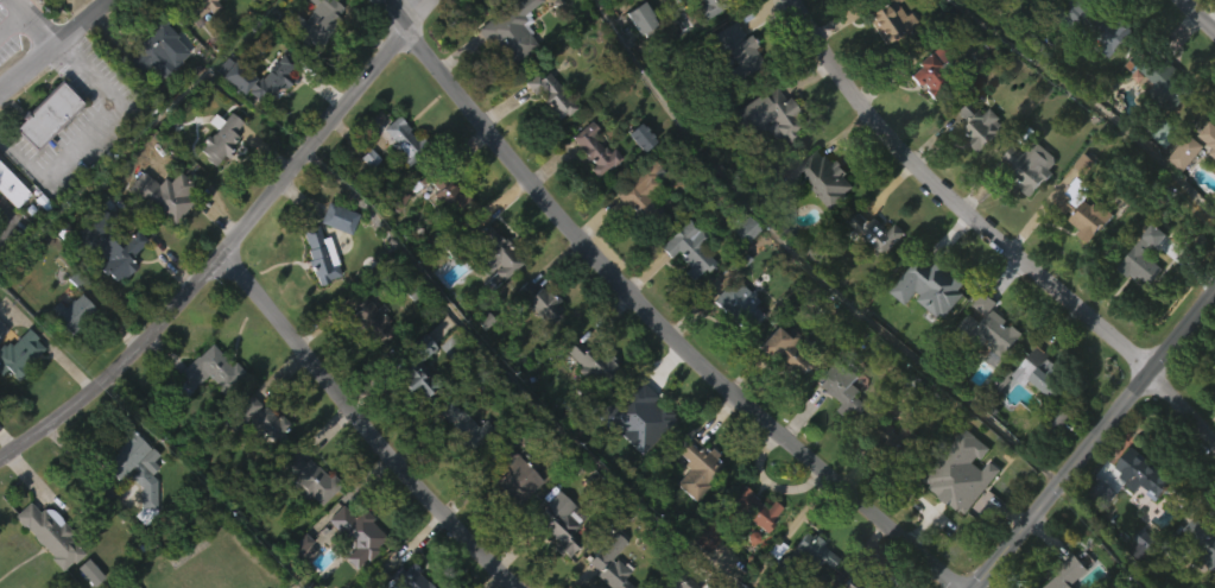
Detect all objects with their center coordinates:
building: (840, 2)
building: (707, 6)
building: (195, 7)
building: (49, 8)
building: (248, 13)
building: (543, 13)
road: (1197, 15)
building: (635, 17)
building: (1040, 17)
road: (10, 19)
building: (891, 20)
building: (1096, 21)
road: (31, 23)
building: (318, 24)
building: (700, 31)
building: (202, 34)
building: (152, 44)
road: (55, 46)
building: (734, 50)
building: (1075, 53)
building: (635, 57)
building: (885, 59)
building: (931, 68)
building: (505, 70)
building: (1103, 74)
building: (271, 78)
building: (1165, 82)
building: (732, 86)
building: (153, 90)
building: (548, 94)
building: (928, 113)
building: (52, 114)
building: (766, 114)
building: (232, 116)
building: (977, 122)
road: (82, 126)
building: (1164, 131)
building: (1209, 134)
building: (545, 135)
building: (637, 135)
building: (220, 138)
building: (401, 139)
building: (591, 147)
building: (1188, 151)
building: (1214, 152)
building: (765, 154)
building: (43, 156)
building: (974, 164)
building: (1032, 166)
building: (215, 176)
building: (822, 177)
building: (397, 179)
building: (1207, 179)
building: (14, 183)
building: (589, 188)
building: (160, 191)
building: (441, 191)
building: (639, 191)
building: (1181, 192)
building: (1026, 206)
building: (1082, 207)
building: (336, 216)
building: (817, 217)
building: (8, 229)
building: (875, 232)
building: (444, 233)
building: (159, 234)
building: (634, 234)
road: (989, 234)
building: (114, 242)
road: (229, 244)
building: (686, 247)
building: (1077, 248)
building: (494, 253)
building: (318, 254)
building: (334, 257)
building: (1146, 257)
road: (805, 261)
building: (740, 268)
building: (873, 273)
building: (931, 284)
building: (107, 286)
building: (684, 289)
building: (489, 293)
building: (316, 295)
building: (536, 301)
building: (735, 303)
building: (1137, 304)
building: (69, 312)
road: (647, 314)
building: (371, 322)
building: (925, 327)
building: (2, 329)
building: (991, 331)
building: (534, 343)
building: (735, 344)
building: (780, 349)
building: (68, 352)
building: (18, 354)
building: (586, 359)
building: (366, 362)
building: (413, 368)
building: (986, 369)
building: (1039, 371)
building: (202, 372)
road: (512, 378)
building: (841, 388)
building: (779, 390)
building: (17, 393)
building: (586, 398)
building: (411, 405)
building: (1214, 409)
building: (201, 412)
building: (1036, 412)
building: (633, 413)
building: (254, 418)
road: (361, 424)
building: (460, 428)
building: (1059, 428)
building: (840, 431)
building: (899, 442)
road: (1095, 444)
building: (632, 455)
building: (125, 459)
building: (251, 459)
building: (691, 464)
building: (456, 466)
building: (1141, 474)
building: (510, 476)
building: (304, 479)
building: (892, 479)
building: (949, 487)
building: (131, 505)
building: (691, 507)
building: (749, 507)
building: (1138, 512)
building: (507, 516)
building: (302, 518)
building: (556, 529)
building: (53, 533)
building: (354, 533)
building: (705, 533)
building: (1202, 542)
building: (748, 548)
building: (1175, 548)
building: (806, 552)
building: (557, 559)
building: (607, 563)
building: (40, 568)
building: (352, 568)
building: (1067, 573)
building: (1197, 573)
building: (404, 575)
building: (700, 577)
building: (670, 581)
building: (297, 582)
building: (803, 582)
building: (848, 584)
building: (872, 586)

